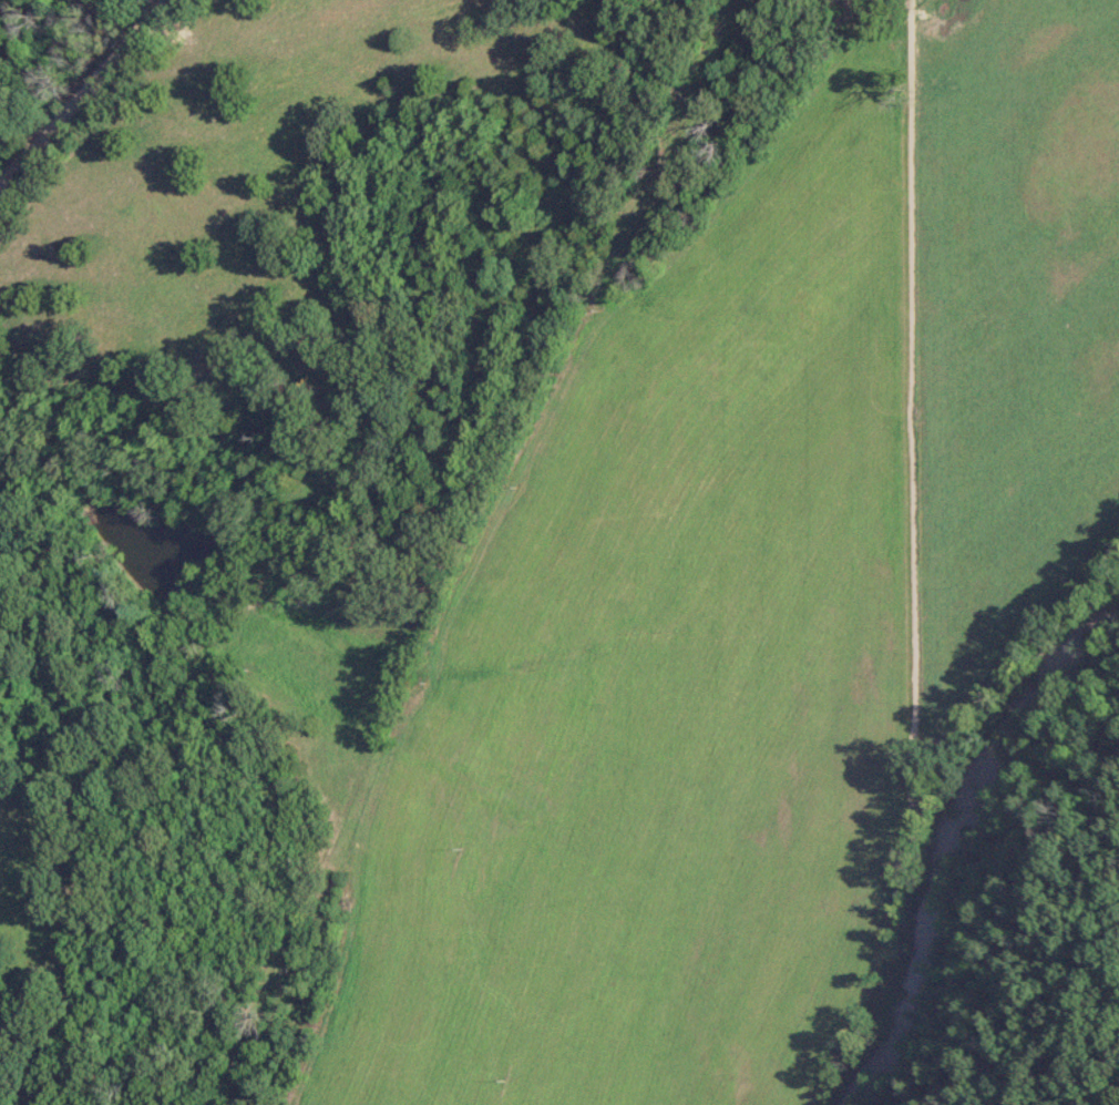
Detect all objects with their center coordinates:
road: (80, 92)

